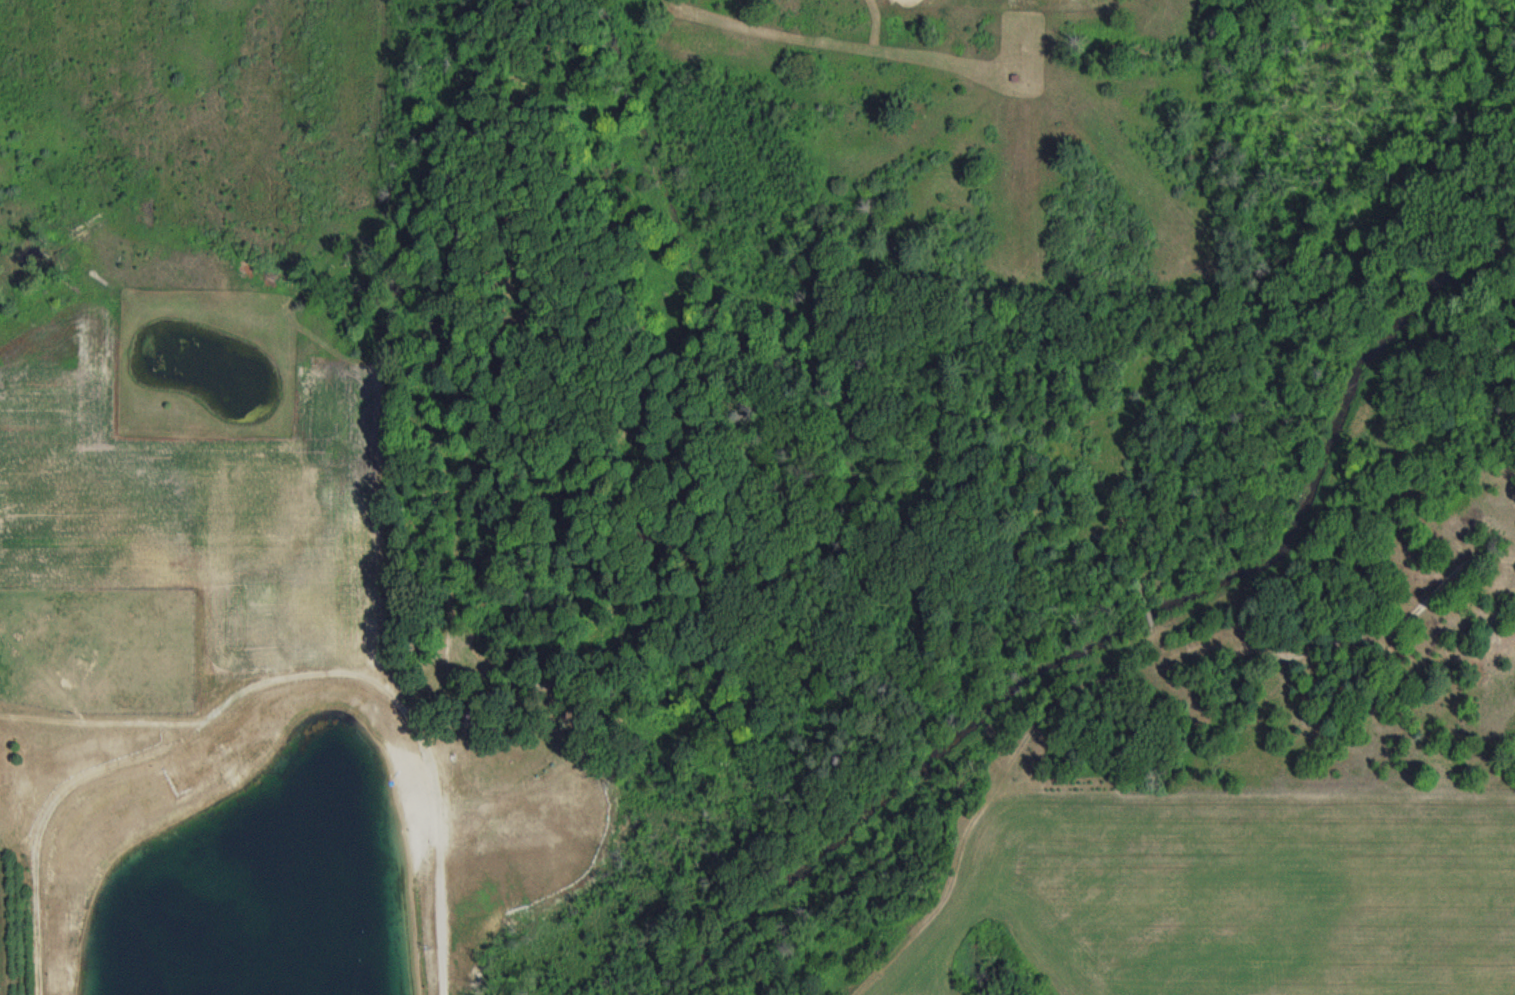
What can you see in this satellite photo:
road: (1440, 586)

